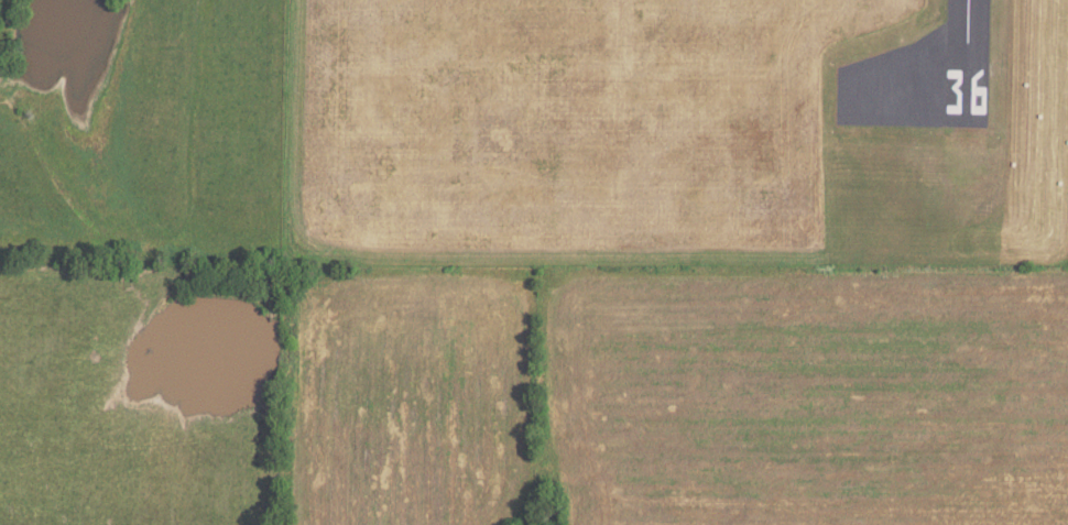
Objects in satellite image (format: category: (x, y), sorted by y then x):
airport runway: (971, 43)
airport taxiway: (915, 88)

